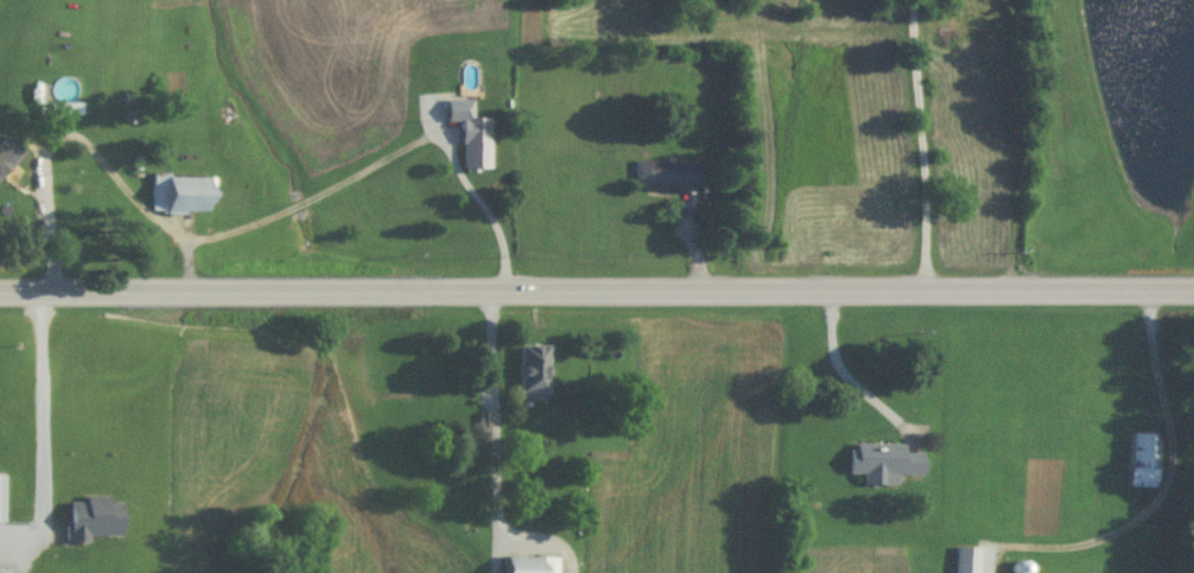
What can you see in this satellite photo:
building: (50, 106)
building: (469, 136)
road: (921, 144)
building: (658, 176)
building: (178, 196)
road: (140, 200)
road: (597, 291)
building: (531, 371)
road: (849, 374)
road: (1158, 376)
road: (490, 419)
building: (1139, 460)
building: (881, 461)
building: (90, 518)
building: (963, 560)
building: (1018, 567)

